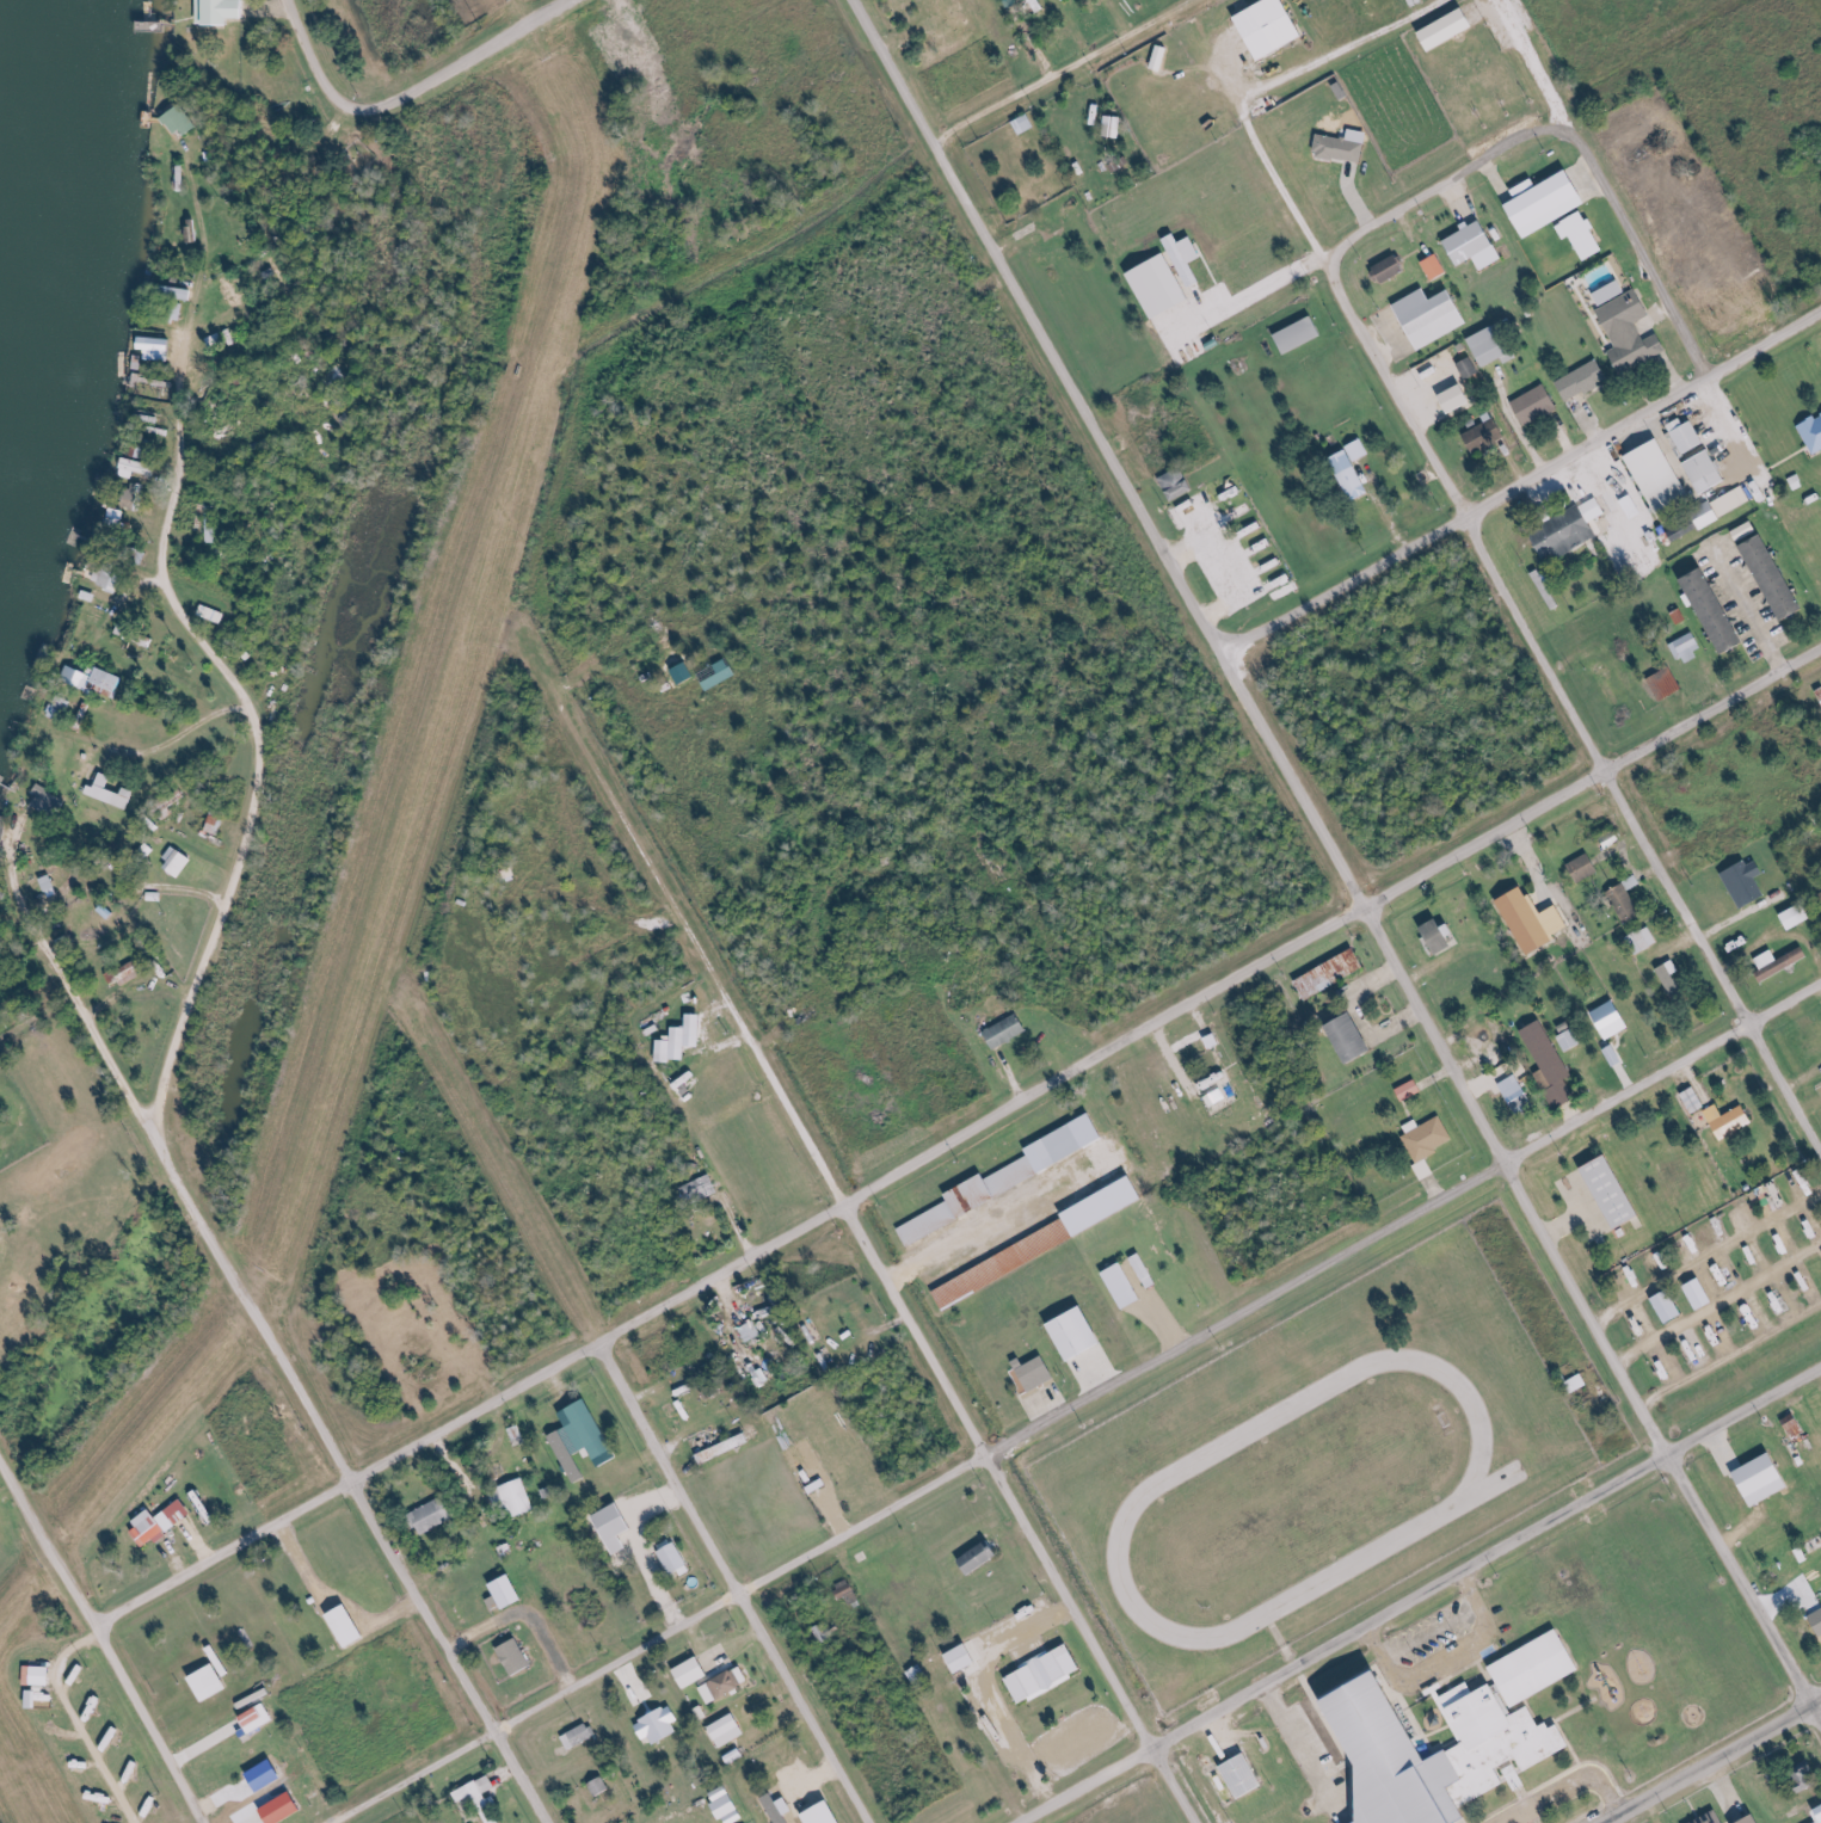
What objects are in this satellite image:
building: (224, 11)
building: (1274, 26)
building: (1452, 29)
building: (1162, 57)
road: (891, 69)
road: (1059, 69)
road: (410, 94)
building: (183, 122)
building: (1026, 124)
building: (1115, 125)
building: (1345, 146)
building: (1549, 201)
river: (24, 232)
building: (1583, 235)
building: (1477, 246)
building: (1187, 257)
building: (1437, 266)
building: (1390, 269)
building: (183, 292)
building: (1612, 292)
building: (1433, 315)
building: (1632, 332)
building: (1302, 334)
building: (1494, 346)
building: (158, 349)
building: (1470, 368)
building: (1585, 380)
building: (1459, 398)
building: (1537, 405)
building: (1487, 433)
building: (1814, 433)
building: (1690, 435)
road: (180, 443)
building: (1360, 450)
building: (142, 451)
building: (139, 468)
building: (1352, 475)
building: (1662, 478)
building: (1177, 484)
road: (1525, 485)
building: (137, 495)
building: (1634, 506)
building: (1724, 507)
building: (1570, 530)
building: (1748, 530)
building: (111, 577)
building: (1779, 577)
building: (1720, 611)
road: (1751, 612)
building: (213, 614)
building: (1687, 647)
building: (687, 673)
building: (725, 675)
building: (97, 680)
building: (1820, 690)
building: (61, 708)
road: (173, 739)
building: (112, 793)
road: (1303, 794)
building: (47, 800)
building: (5, 827)
road: (1643, 838)
building: (1612, 840)
building: (178, 862)
building: (1586, 868)
building: (1748, 882)
building: (50, 883)
building: (1626, 904)
building: (1800, 916)
building: (1537, 922)
building: (1442, 936)
building: (1644, 940)
building: (1782, 962)
building: (127, 974)
building: (1331, 974)
building: (1674, 979)
road: (68, 990)
building: (1614, 1020)
building: (1008, 1031)
building: (1354, 1039)
building: (682, 1040)
building: (1570, 1040)
building: (1552, 1066)
road: (1662, 1071)
building: (1411, 1090)
building: (1217, 1098)
building: (1696, 1100)
building: (1731, 1121)
road: (958, 1139)
building: (1427, 1141)
building: (1068, 1144)
building: (700, 1189)
building: (1616, 1193)
building: (972, 1200)
building: (1107, 1207)
building: (1005, 1264)
building: (1146, 1271)
building: (1126, 1286)
road: (235, 1287)
building: (1697, 1295)
building: (1671, 1307)
road: (1245, 1308)
building: (751, 1331)
building: (1081, 1335)
building: (1038, 1373)
road: (941, 1374)
building: (1580, 1384)
building: (1794, 1424)
building: (592, 1431)
building: (726, 1448)
building: (571, 1454)
building: (1766, 1479)
track: (1493, 1486)
track: (1299, 1496)
building: (516, 1498)
building: (433, 1515)
building: (162, 1523)
building: (617, 1527)
building: (983, 1557)
building: (676, 1560)
road: (734, 1583)
railway: (1396, 1583)
building: (847, 1589)
road: (1417, 1594)
road: (1740, 1595)
building: (1817, 1616)
building: (350, 1626)
building: (823, 1633)
road: (659, 1638)
road: (103, 1639)
building: (517, 1657)
building: (965, 1657)
building: (1539, 1668)
building: (694, 1673)
building: (1047, 1673)
building: (39, 1675)
building: (919, 1675)
building: (213, 1682)
building: (726, 1685)
building: (35, 1699)
building: (702, 1713)
building: (259, 1718)
building: (662, 1725)
building: (730, 1730)
building: (579, 1737)
building: (1518, 1747)
road: (1706, 1757)
building: (267, 1775)
building: (1247, 1775)
building: (1515, 1776)
building: (1808, 1776)
road: (1171, 1784)
building: (601, 1787)
road: (1562, 1788)
building: (484, 1797)
building: (728, 1805)
building: (780, 1807)
building: (285, 1809)
building: (828, 1813)
building: (1715, 1818)
building: (1758, 1819)

